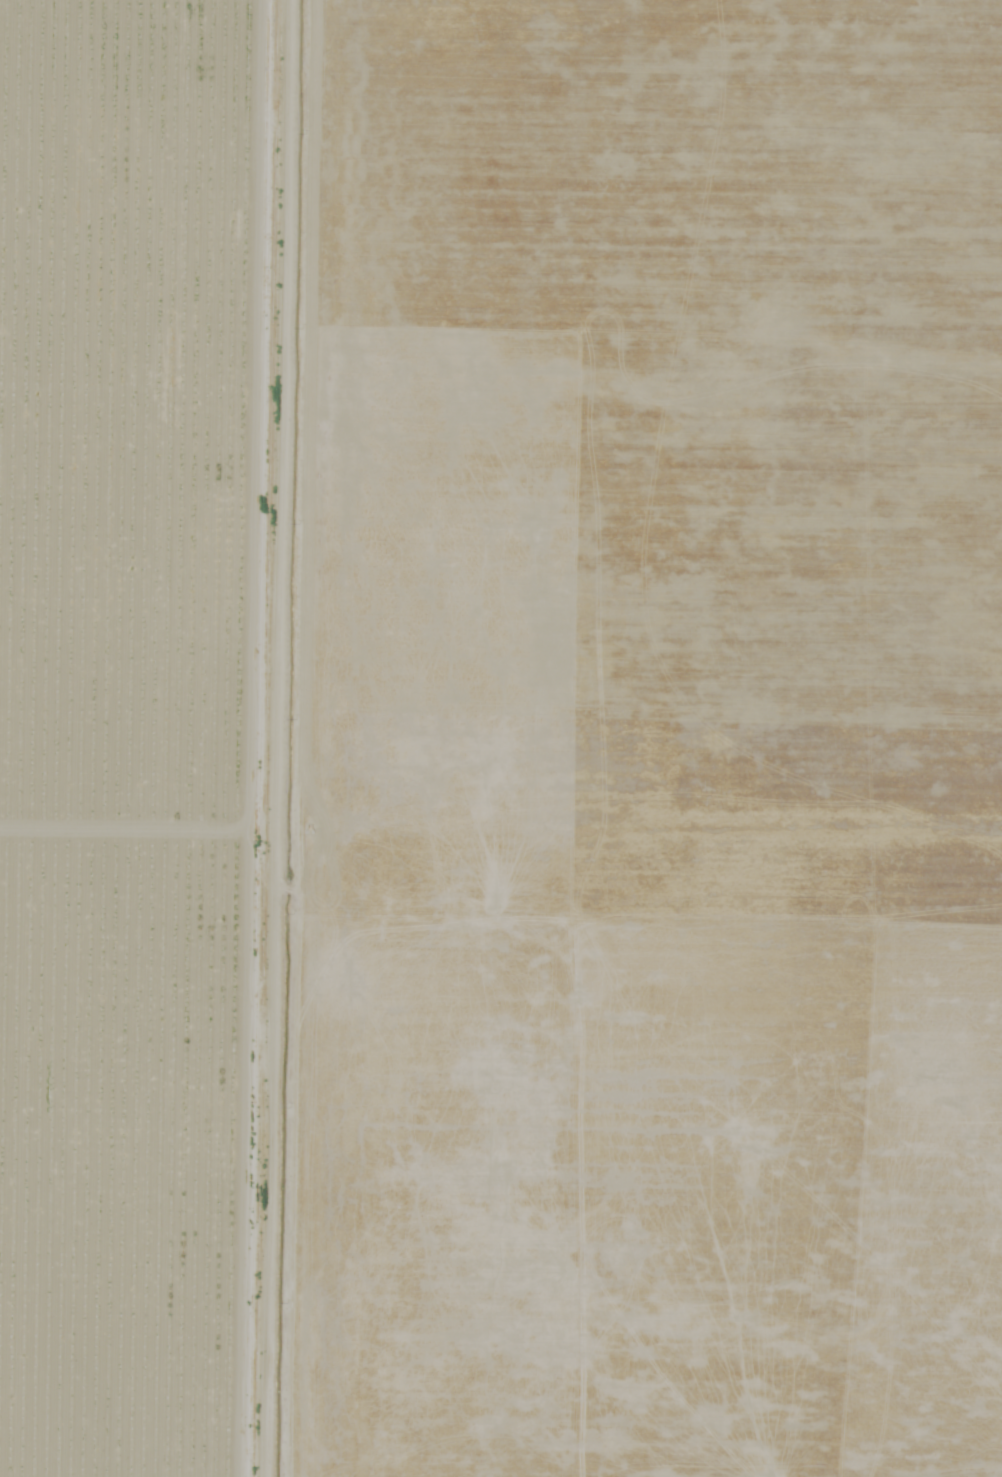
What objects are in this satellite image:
crop: (158, 736)
road: (323, 738)

